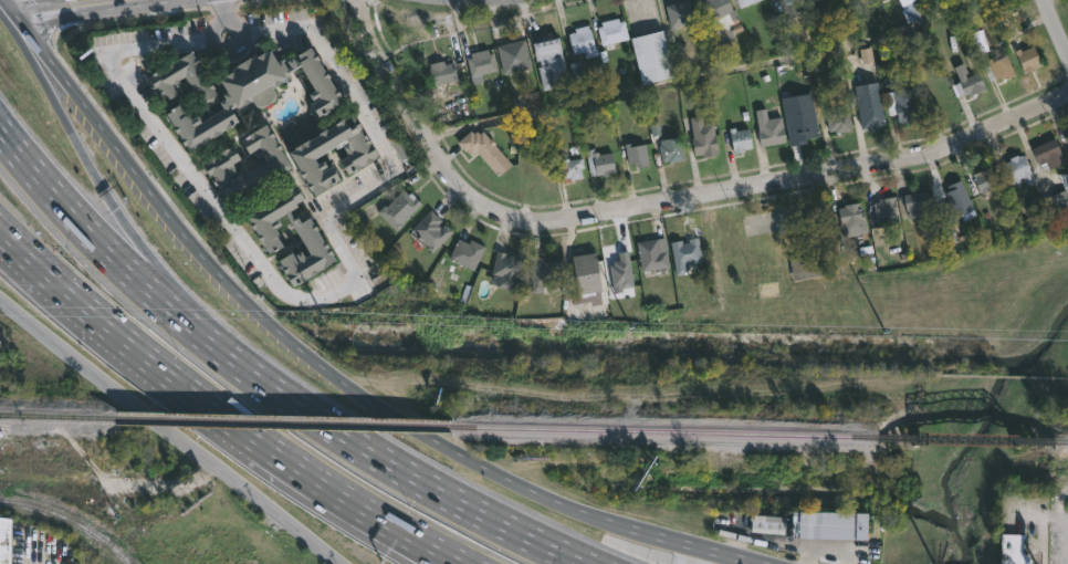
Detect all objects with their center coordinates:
road: (125, 1)
road: (133, 1)
building: (745, 2)
road: (53, 4)
building: (792, 4)
road: (91, 6)
road: (13, 7)
road: (36, 11)
road: (223, 13)
building: (679, 14)
building: (720, 21)
road: (1056, 27)
road: (232, 29)
building: (611, 31)
building: (583, 42)
building: (513, 56)
building: (651, 58)
building: (722, 59)
building: (1027, 59)
building: (549, 60)
building: (481, 63)
building: (998, 67)
building: (441, 74)
road: (702, 74)
building: (970, 85)
building: (235, 92)
building: (901, 105)
building: (870, 112)
building: (806, 117)
building: (838, 123)
building: (768, 129)
building: (702, 137)
building: (740, 140)
building: (401, 147)
building: (668, 149)
building: (485, 150)
building: (1049, 154)
building: (304, 155)
building: (637, 155)
building: (599, 164)
building: (216, 166)
building: (537, 167)
building: (572, 168)
building: (1016, 171)
building: (987, 179)
building: (1058, 198)
road: (660, 205)
building: (918, 205)
building: (956, 205)
building: (399, 209)
building: (886, 211)
building: (851, 220)
building: (430, 230)
building: (310, 241)
road: (154, 246)
building: (467, 253)
building: (653, 254)
building: (806, 267)
building: (505, 271)
road: (135, 273)
building: (546, 274)
building: (586, 278)
road: (318, 300)
road: (276, 333)
road: (157, 368)
railway: (61, 416)
road: (157, 418)
railway: (293, 422)
railway: (673, 431)
railway: (968, 438)
railway: (1060, 441)
road: (432, 488)
road: (1039, 516)
railway: (71, 520)
building: (834, 523)
road: (398, 525)
road: (374, 526)
building: (4, 540)
road: (1043, 541)
road: (702, 546)
road: (827, 549)
building: (1013, 549)
road: (327, 554)

